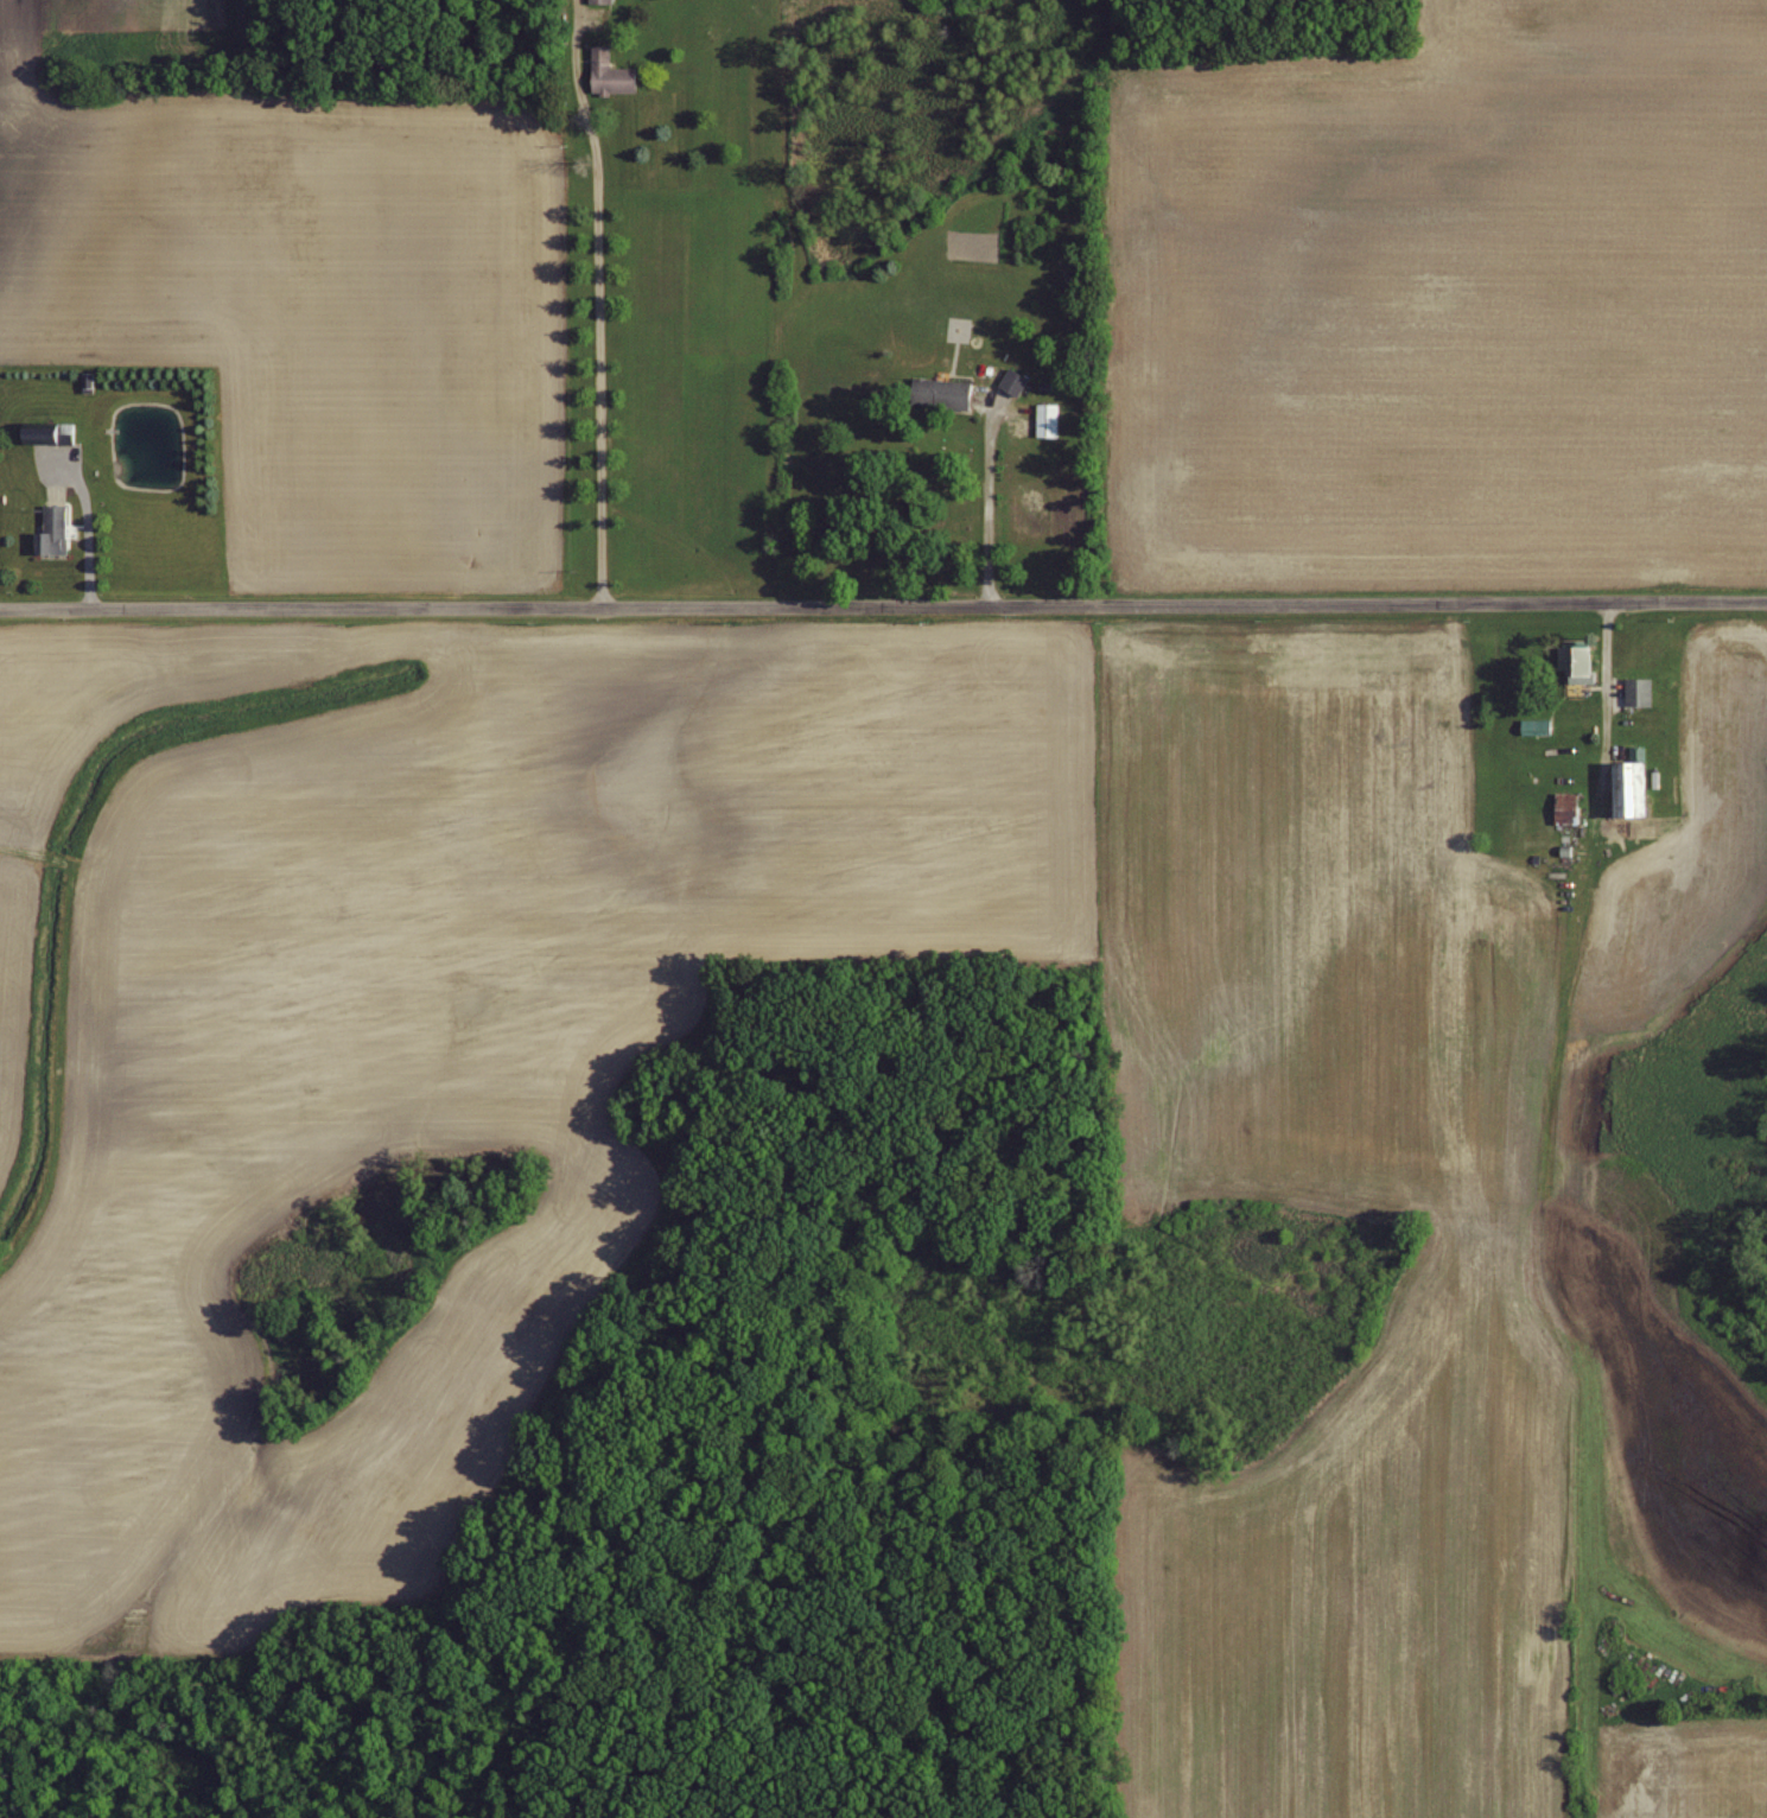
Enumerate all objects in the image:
crop: (1593, 28)
crop: (301, 299)
road: (597, 303)
crop: (1435, 319)
road: (883, 608)
crop: (11, 947)
road: (1551, 1133)
crop: (173, 1237)
crop: (1693, 1774)

